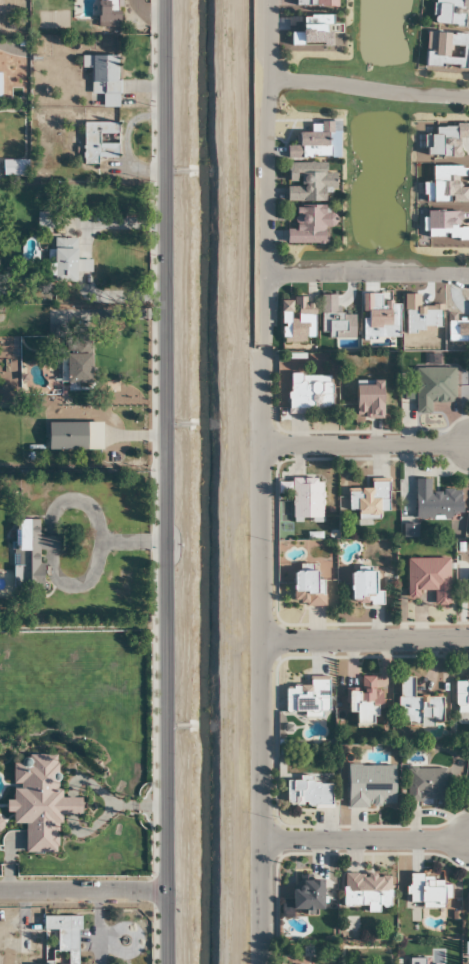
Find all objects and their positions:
building: (101, 79)
road: (368, 93)
building: (99, 141)
building: (14, 168)
building: (45, 220)
building: (62, 262)
road: (367, 276)
building: (296, 321)
building: (76, 368)
building: (432, 387)
building: (309, 392)
building: (368, 400)
building: (65, 436)
road: (365, 445)
road: (261, 481)
road: (169, 482)
building: (369, 499)
building: (305, 500)
building: (435, 502)
building: (468, 525)
building: (31, 543)
building: (427, 579)
building: (306, 589)
building: (363, 589)
road: (365, 640)
building: (308, 696)
building: (461, 696)
building: (365, 702)
building: (416, 705)
building: (425, 785)
building: (370, 786)
building: (308, 793)
building: (38, 803)
road: (365, 841)
road: (85, 891)
building: (366, 891)
building: (426, 891)
building: (307, 896)
building: (467, 903)
building: (63, 936)
building: (415, 961)

